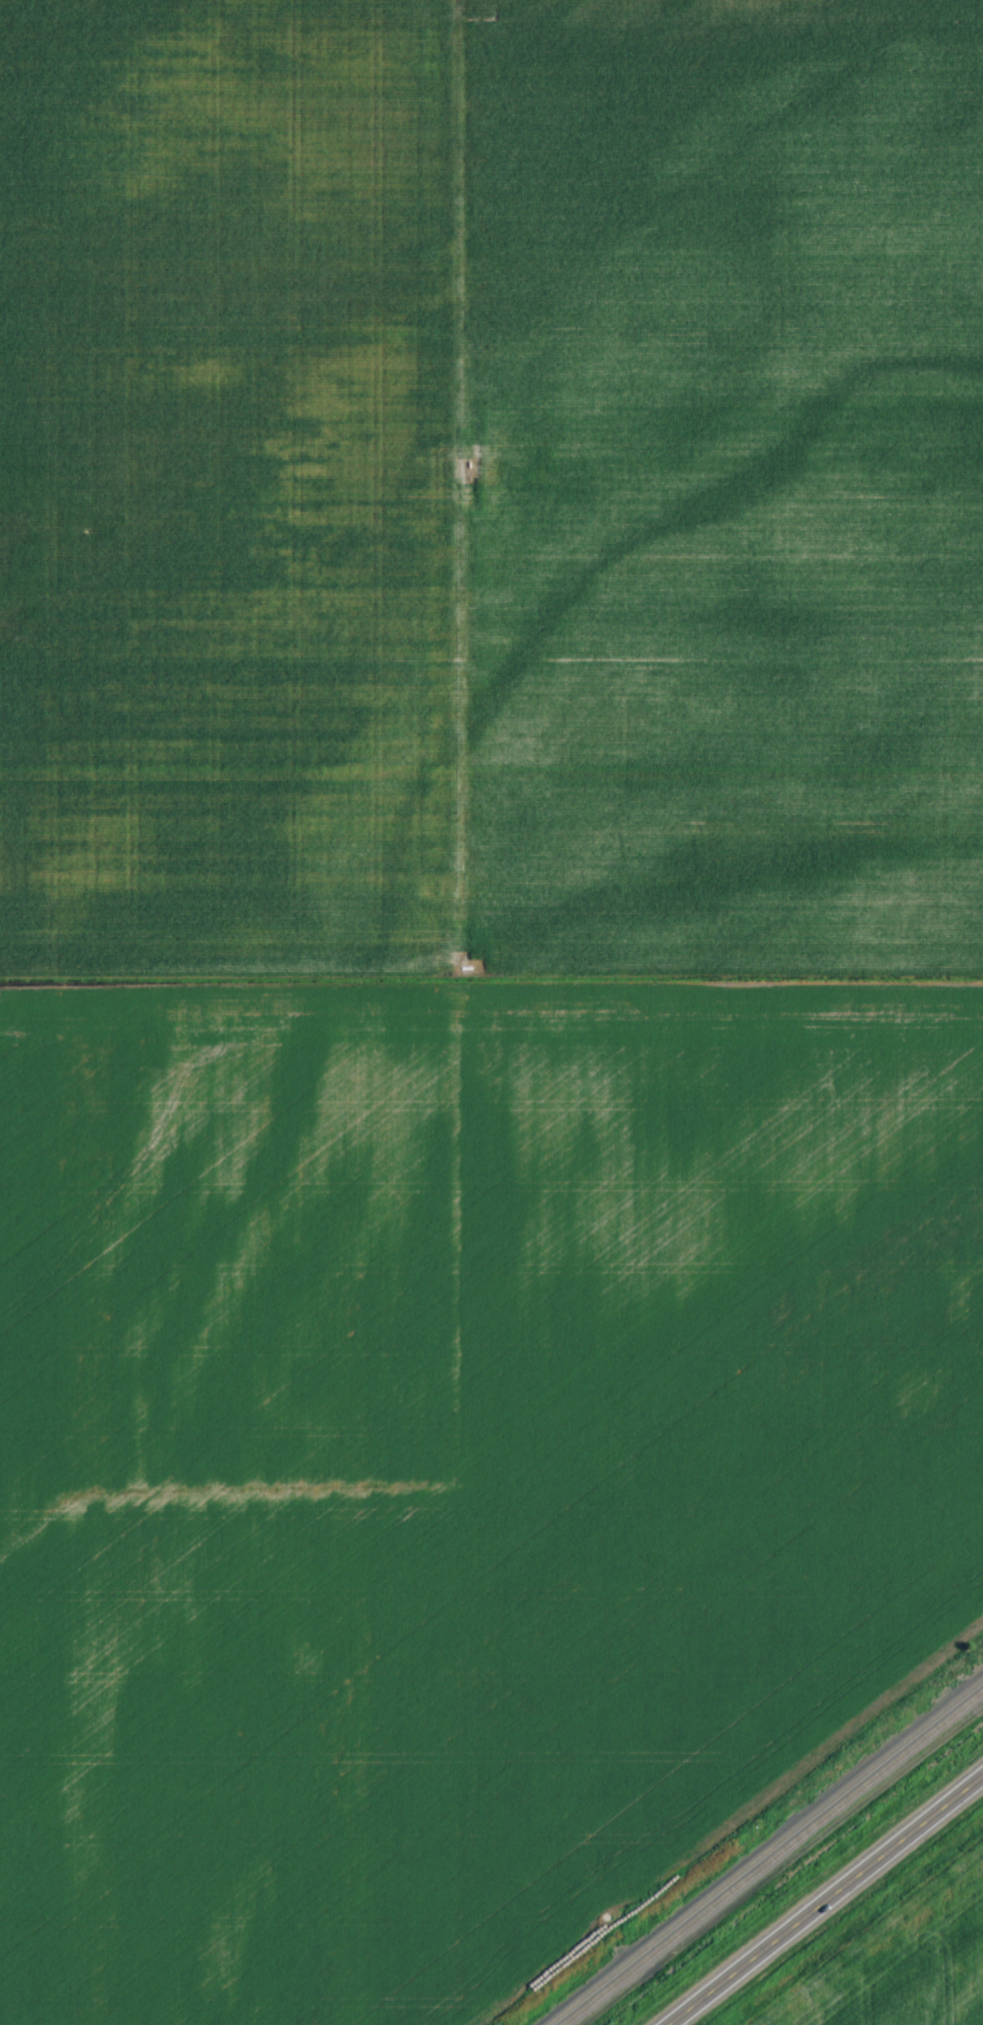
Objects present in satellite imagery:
railway: (765, 1851)
railway: (772, 1857)
road: (828, 1902)

